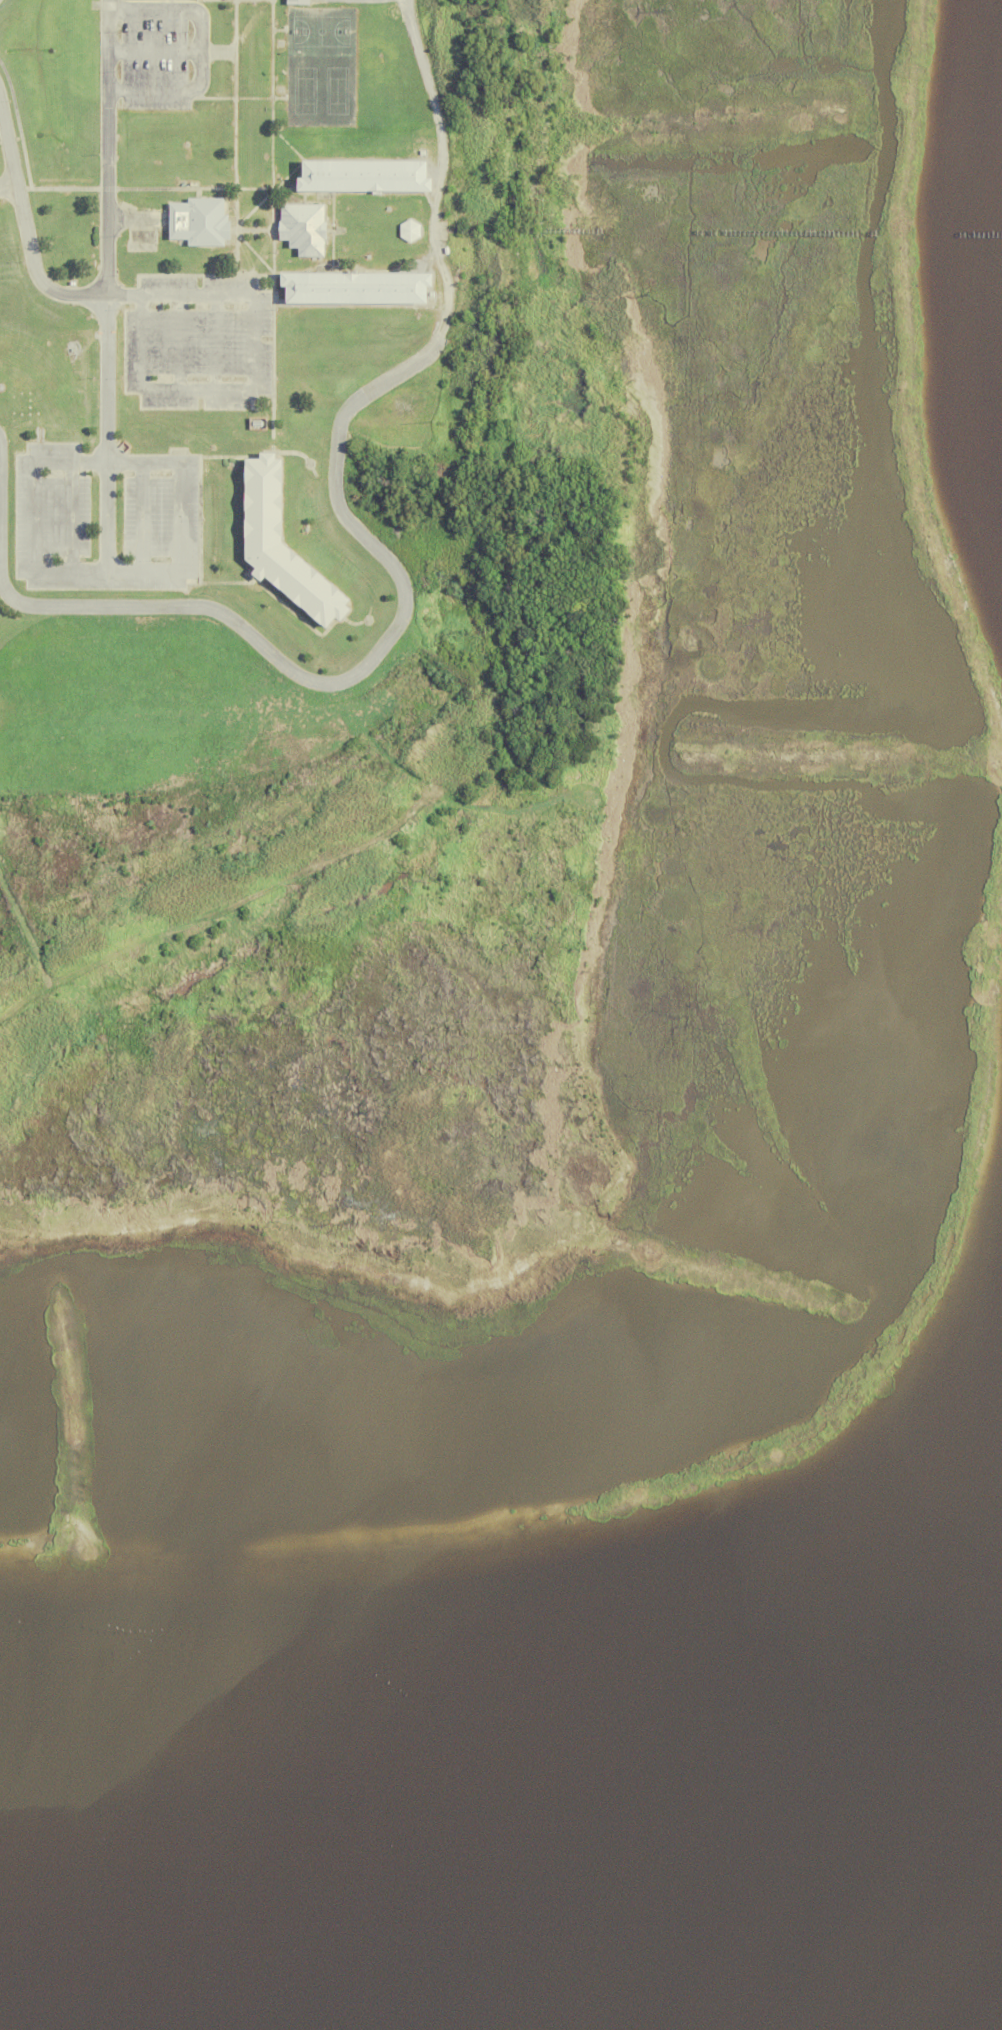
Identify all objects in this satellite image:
building: (297, 2)
building: (279, 42)
parking lot: (162, 51)
building: (278, 89)
building: (363, 180)
road: (136, 217)
road: (27, 223)
building: (198, 223)
road: (111, 225)
building: (302, 229)
building: (409, 230)
building: (355, 292)
parking lot: (199, 338)
building: (308, 464)
parking lot: (106, 516)
road: (344, 523)
building: (281, 549)
road: (104, 572)
building: (366, 620)

